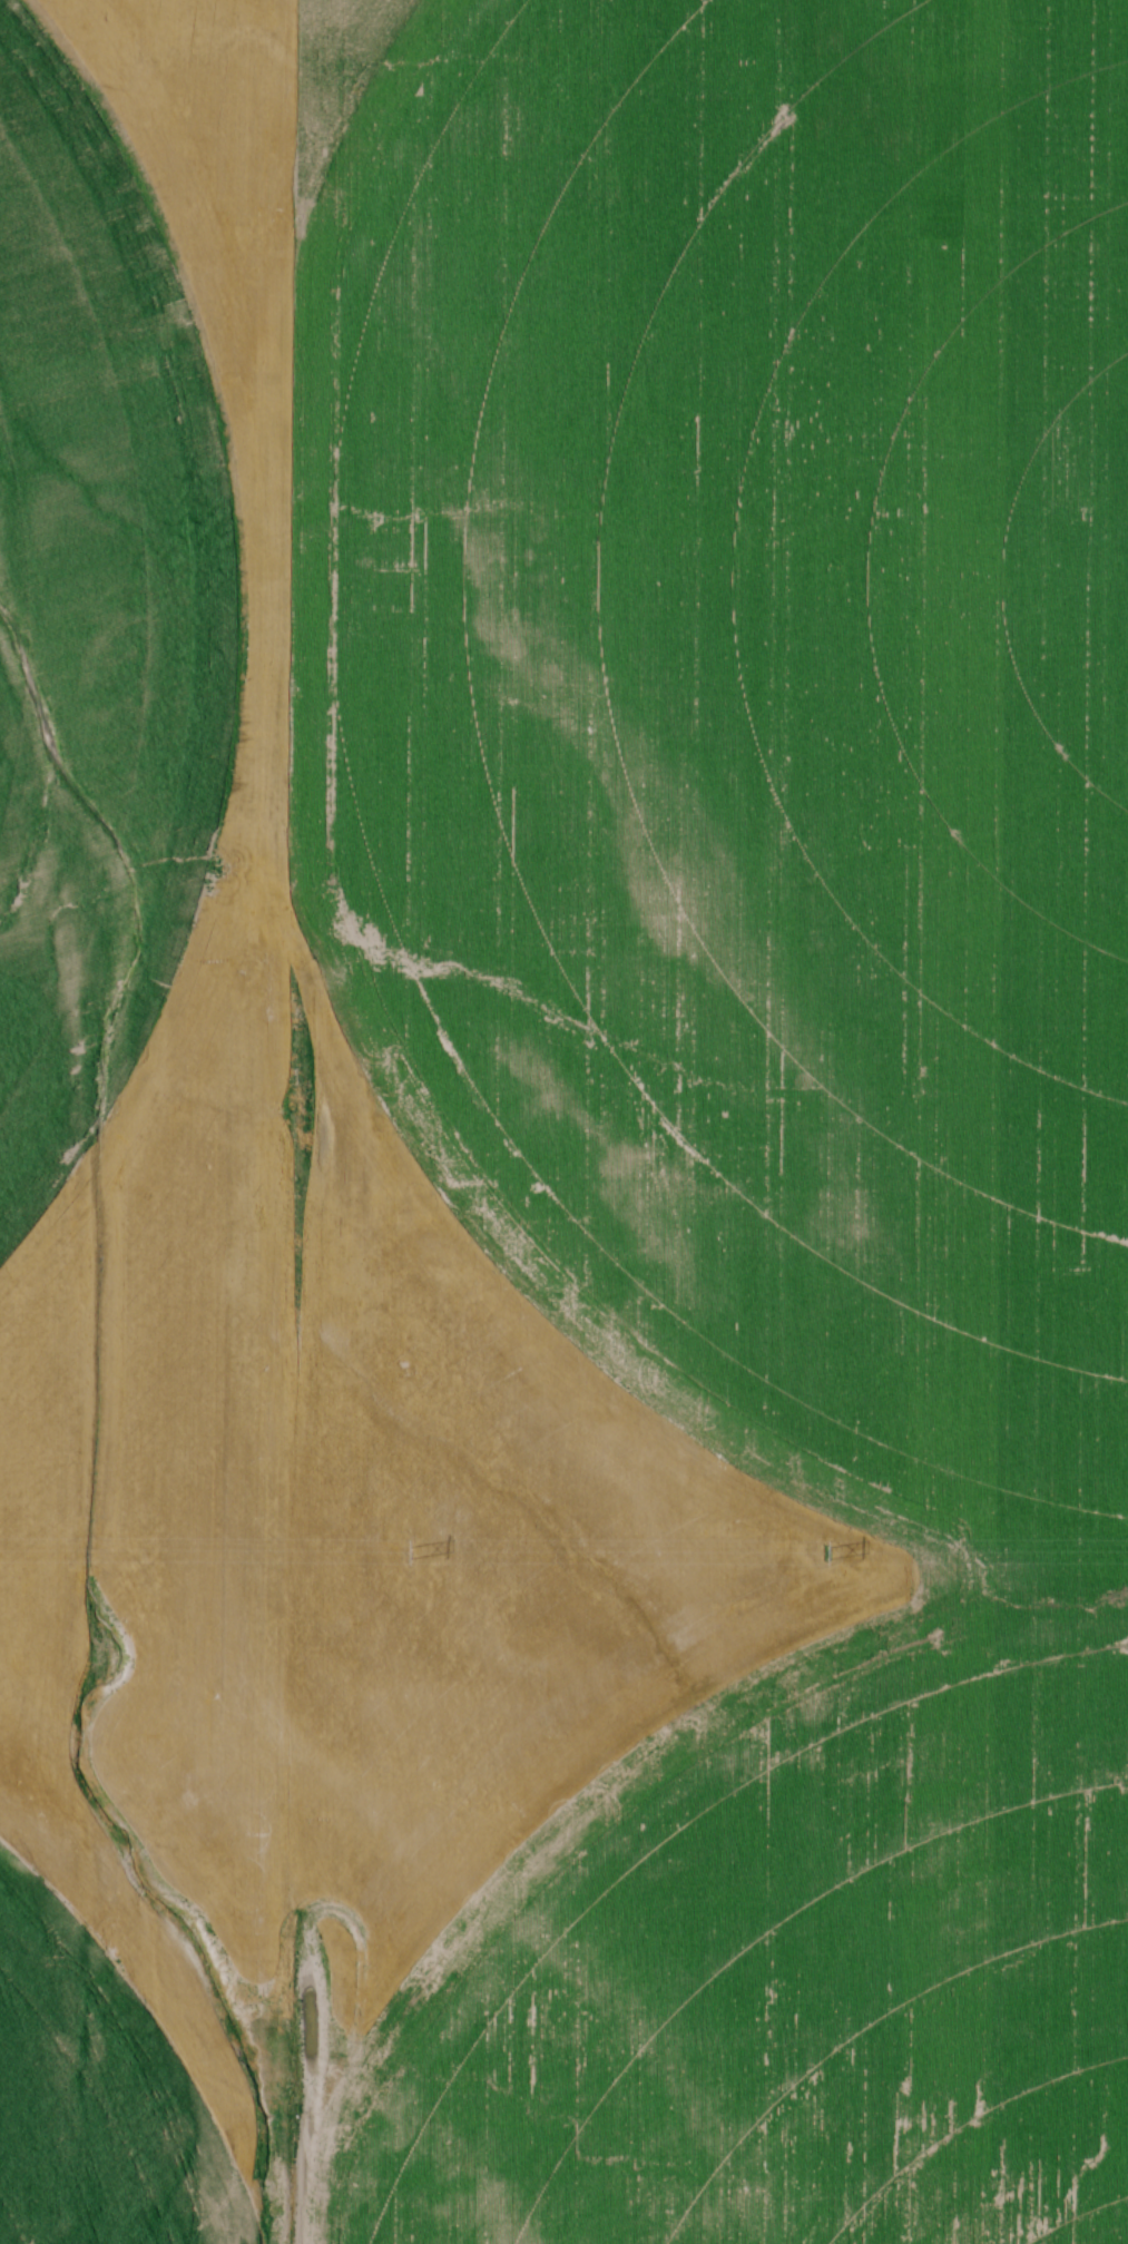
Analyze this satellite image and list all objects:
power tower: (412, 1550)
power tower: (825, 1556)

